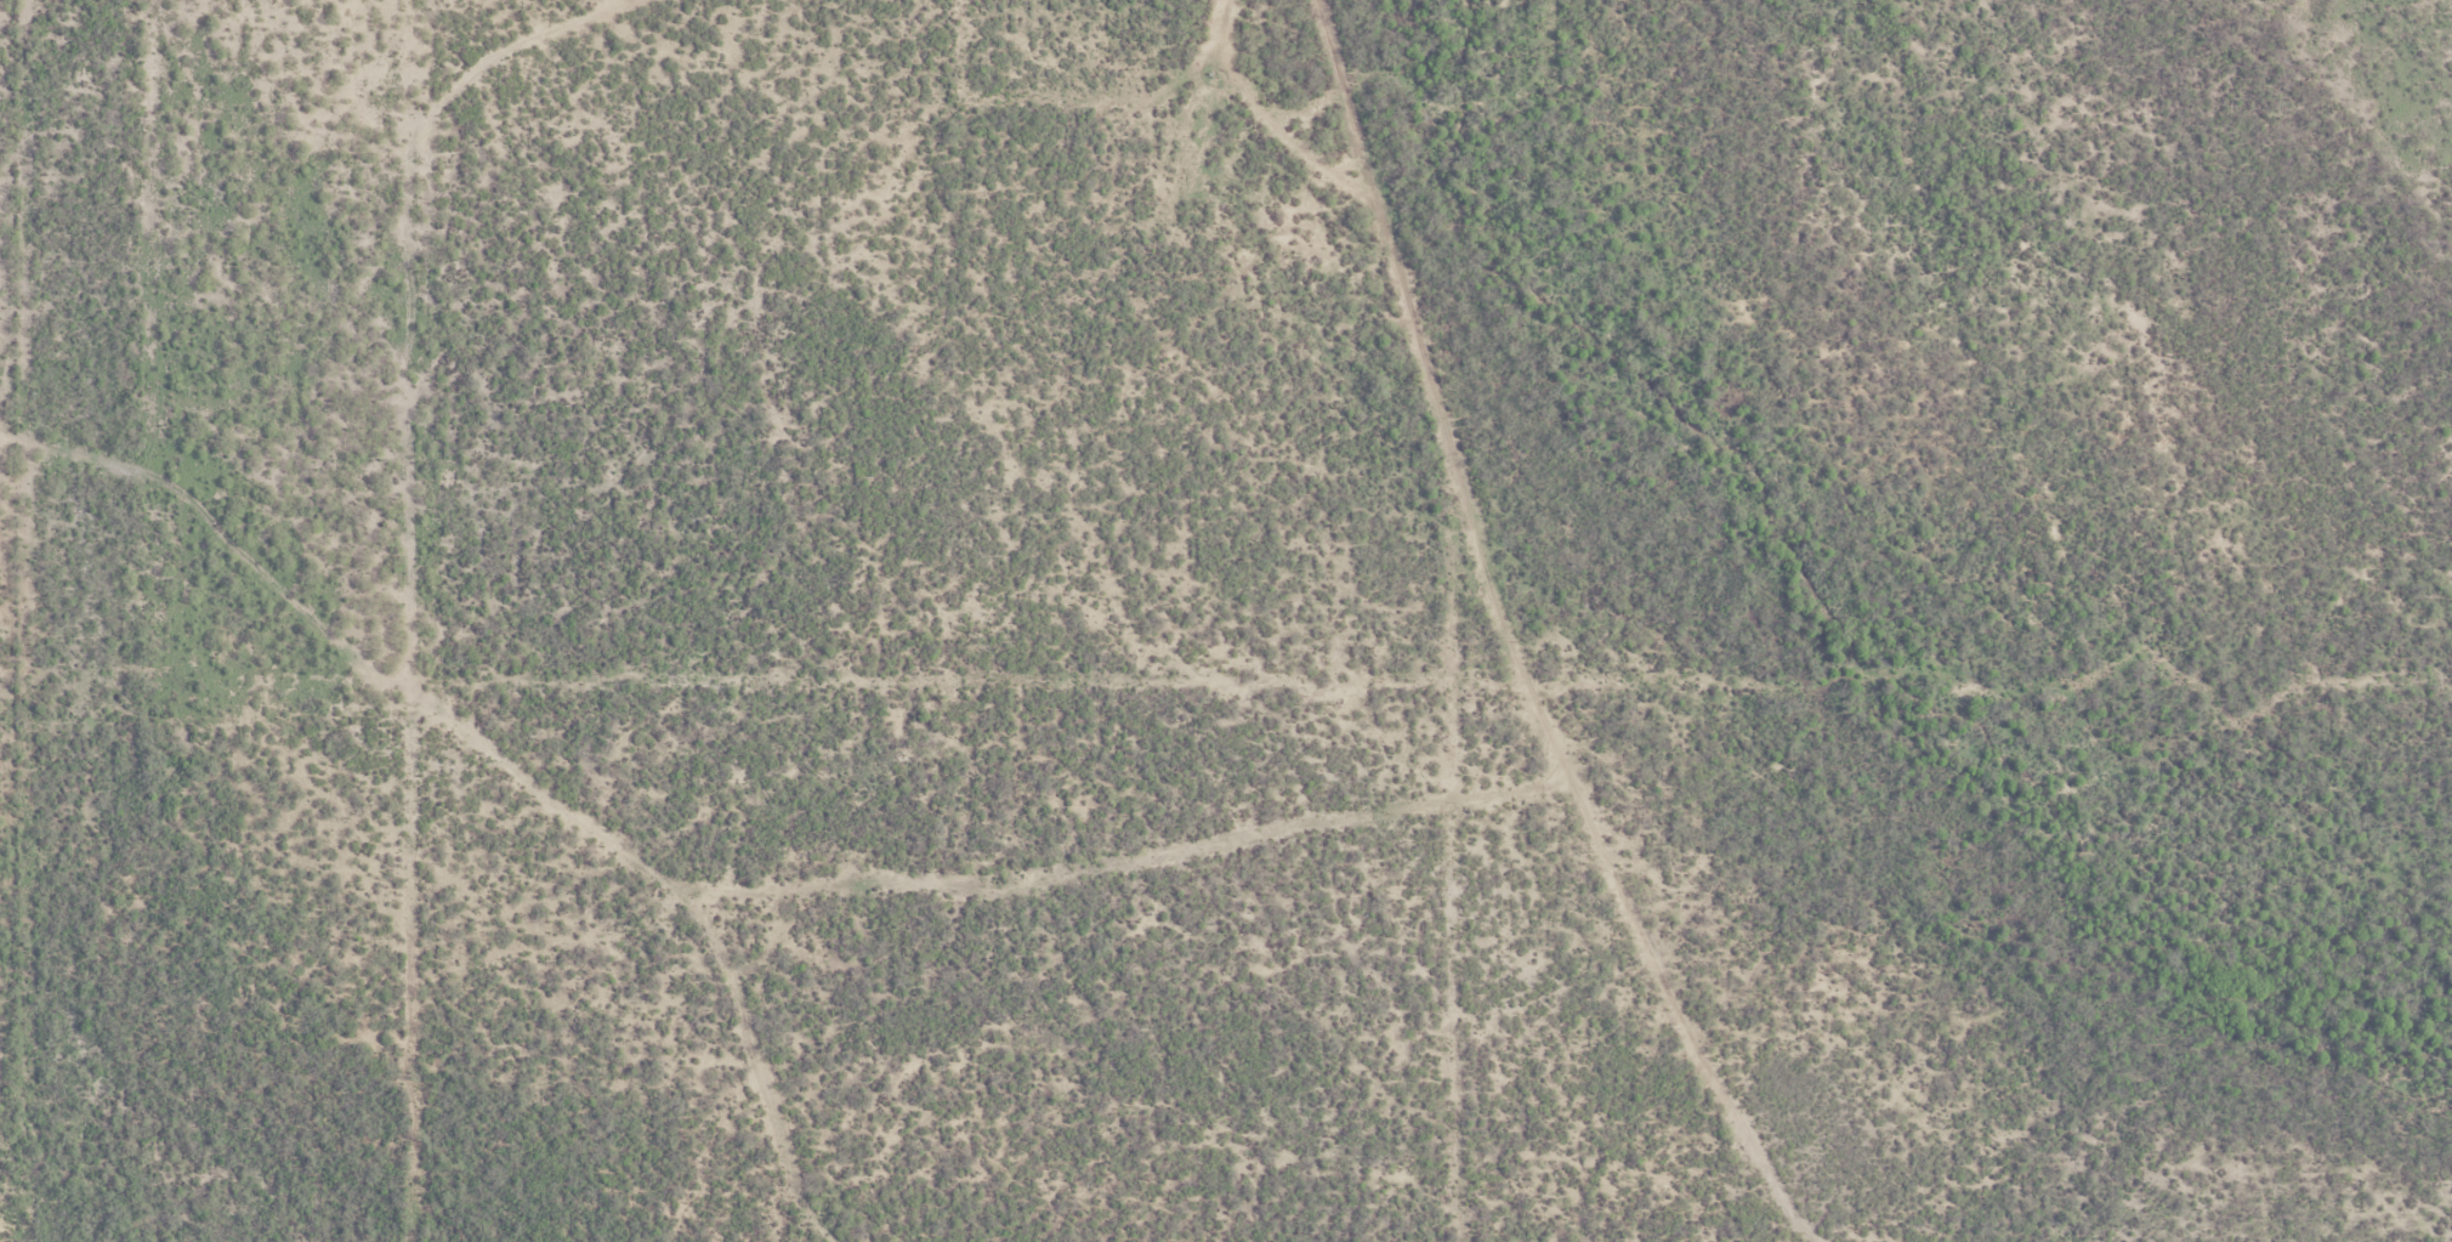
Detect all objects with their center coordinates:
road: (2, 1054)

